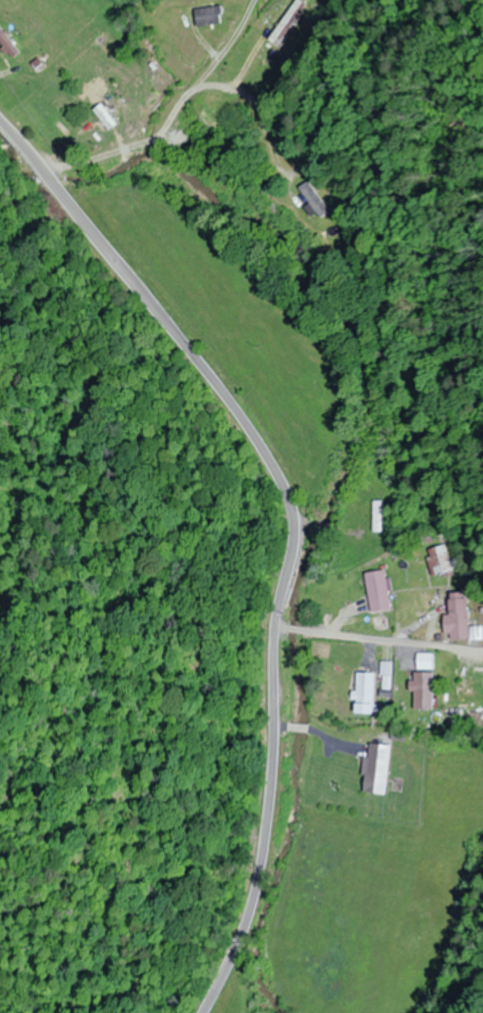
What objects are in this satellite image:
building: (208, 15)
building: (8, 44)
road: (173, 114)
road: (22, 144)
building: (314, 198)
building: (378, 515)
road: (292, 557)
building: (440, 560)
building: (378, 590)
building: (459, 619)
road: (378, 643)
building: (387, 674)
building: (474, 684)
building: (423, 690)
building: (365, 692)
building: (377, 768)

